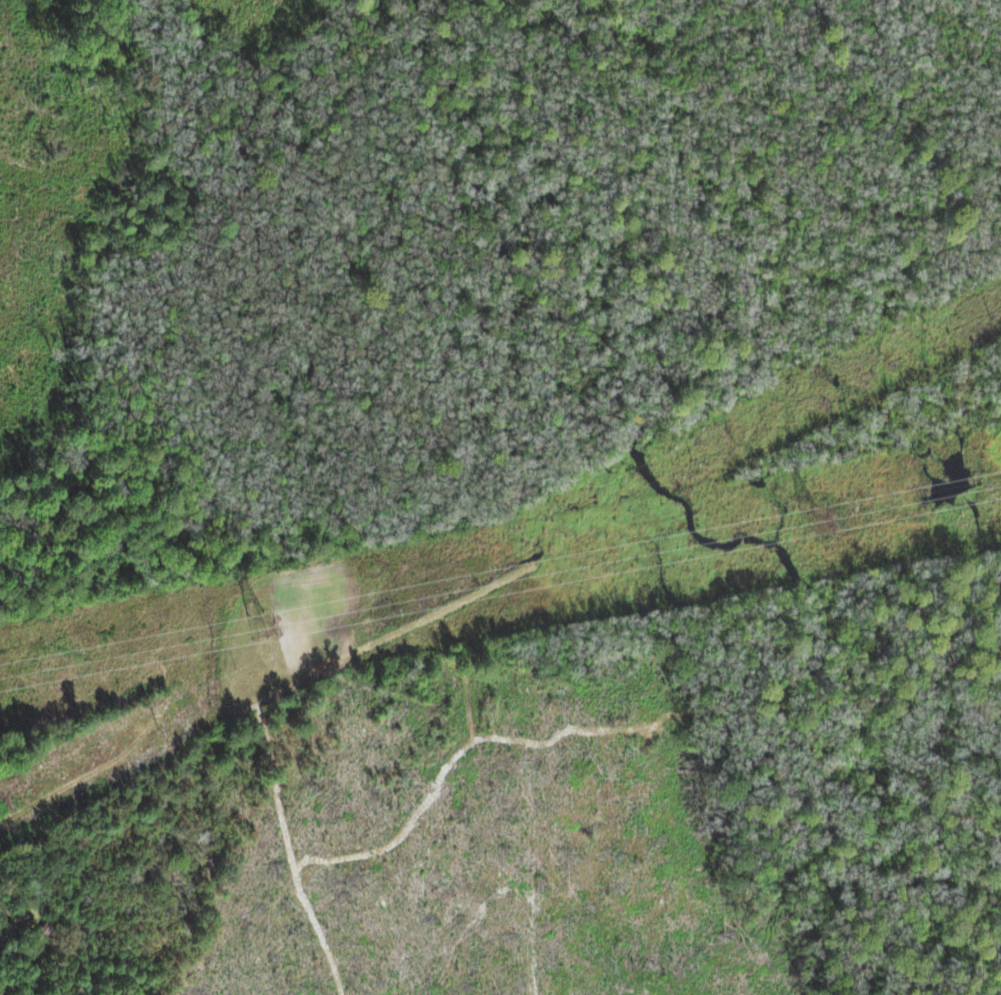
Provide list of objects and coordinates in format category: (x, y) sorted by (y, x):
power tower: (808, 518)
power tower: (263, 627)

